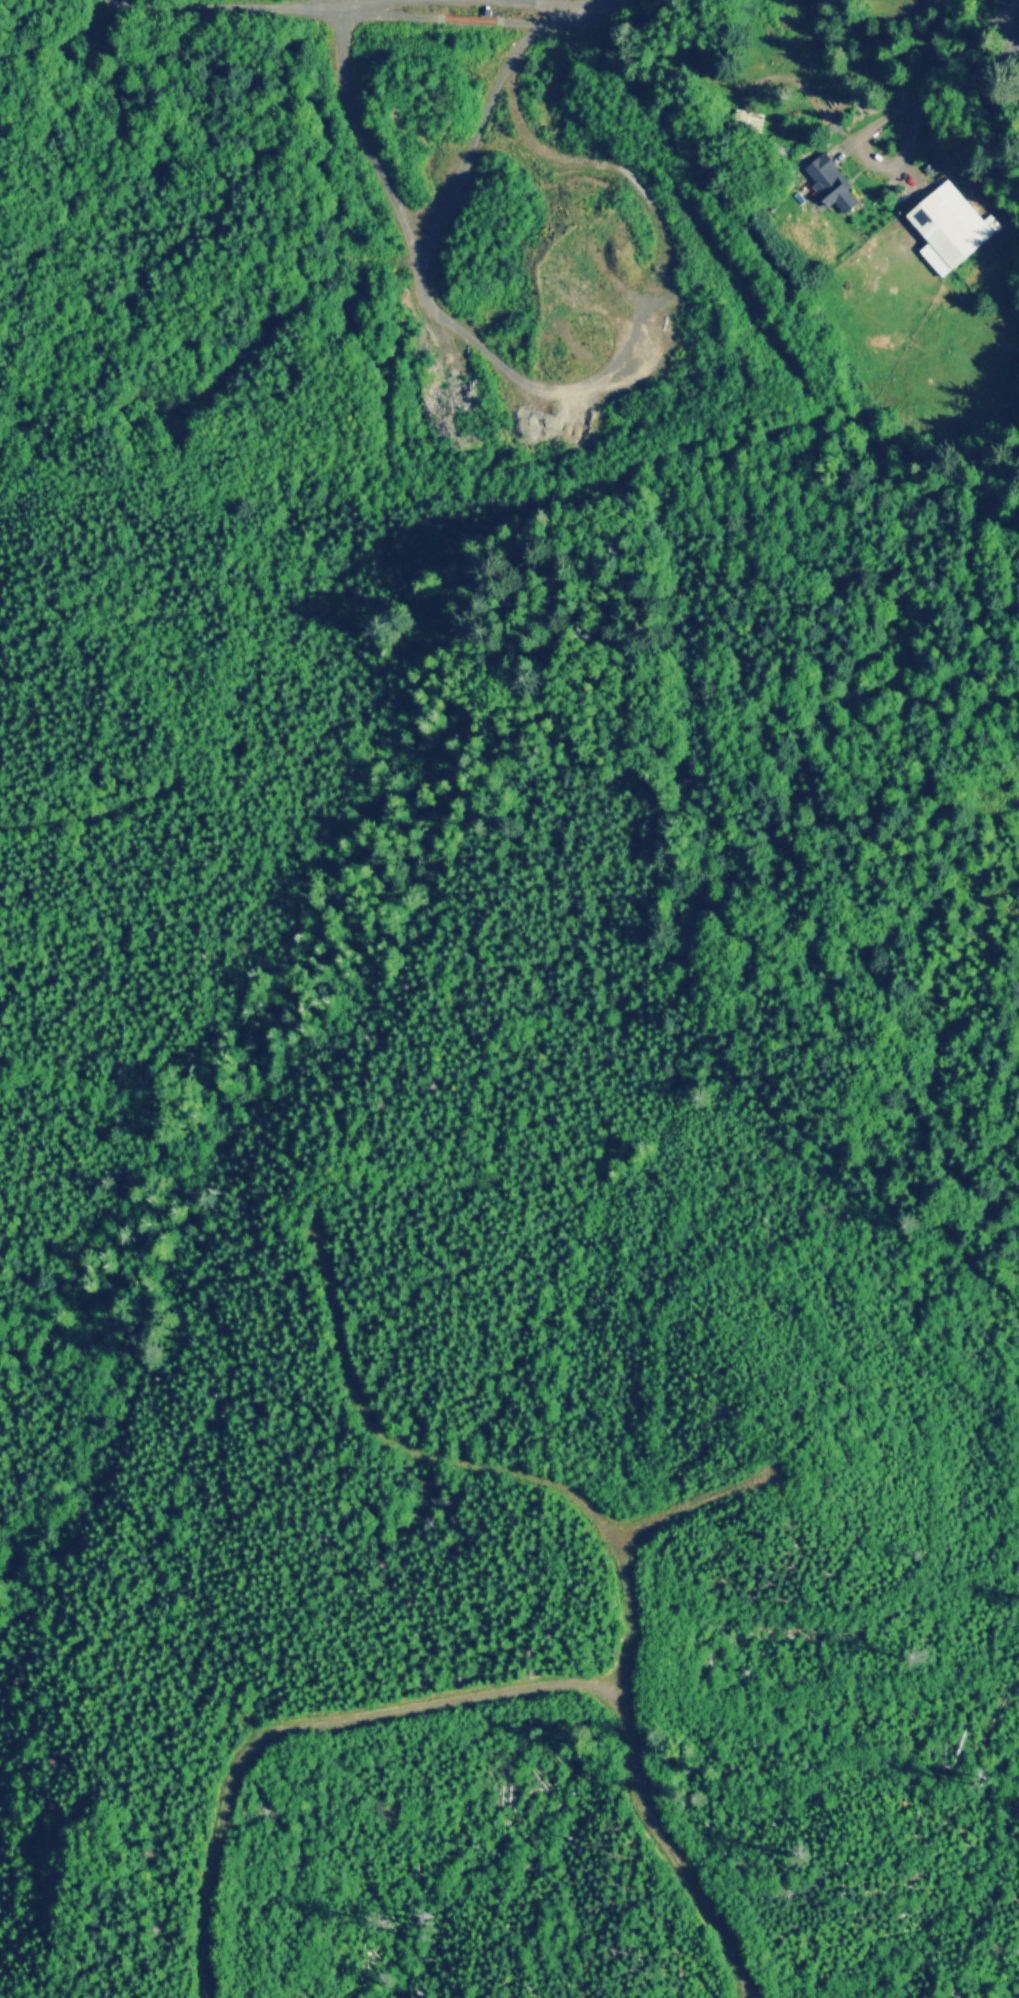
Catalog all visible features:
road: (269, 6)
road: (572, 7)
road: (385, 13)
building: (467, 19)
road: (468, 19)
road: (560, 24)
road: (477, 127)
road: (571, 161)
building: (829, 181)
building: (946, 225)
quarry: (548, 254)
road: (454, 326)
road: (390, 1440)
road: (629, 1537)
road: (469, 1699)

